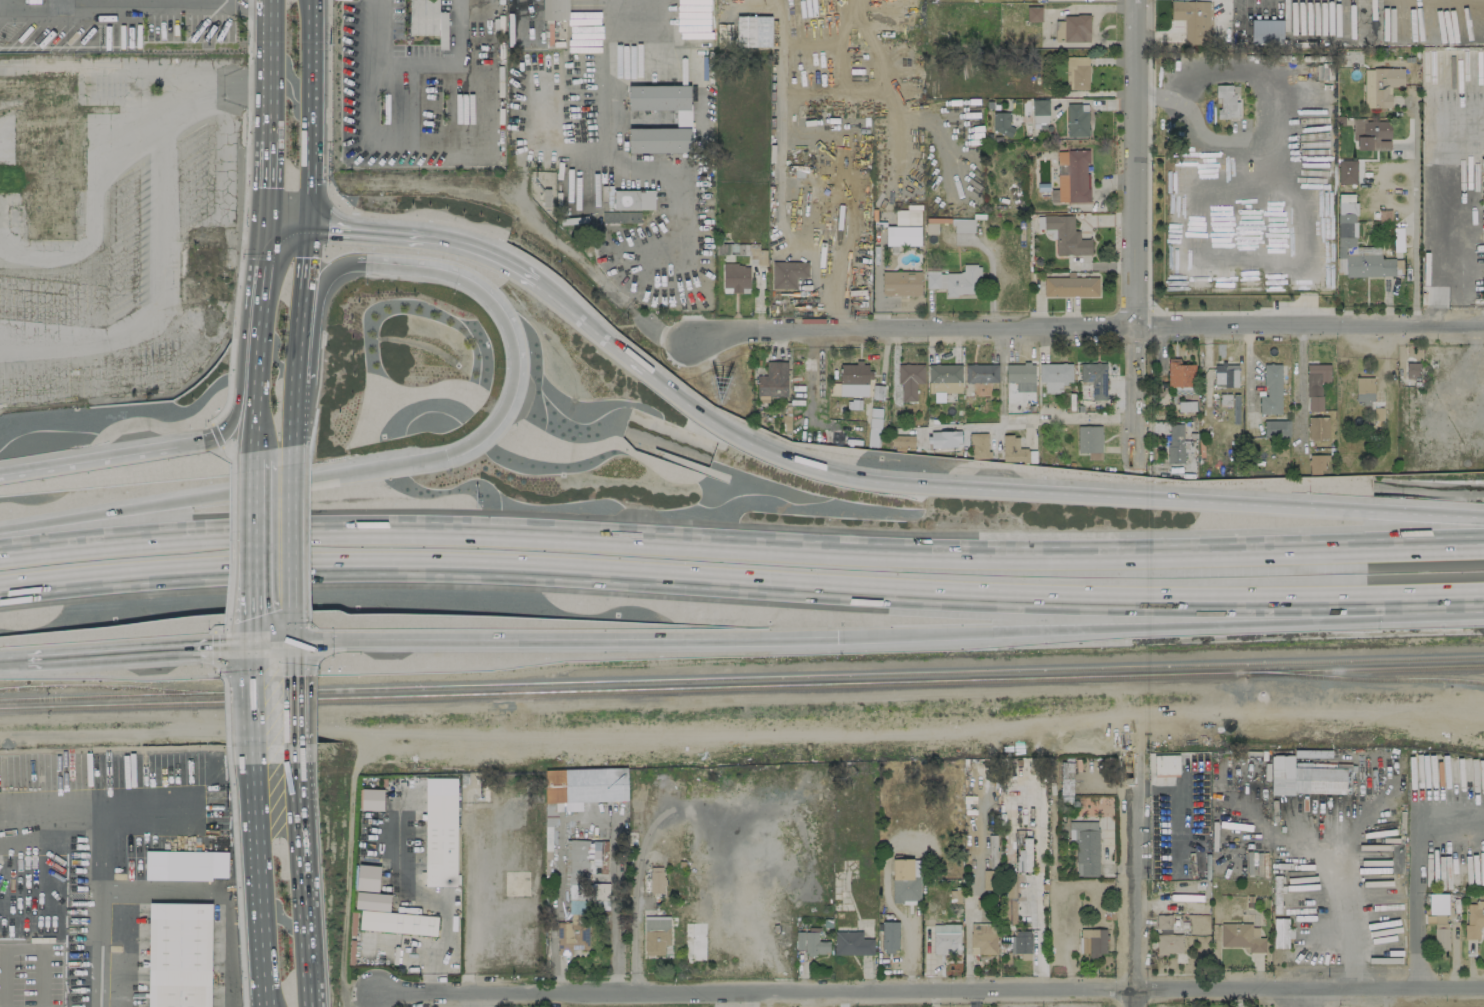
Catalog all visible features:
road: (115, 0)
road: (231, 0)
road: (305, 0)
road: (236, 1)
building: (1368, 1)
road: (254, 3)
building: (555, 9)
building: (1034, 14)
building: (428, 20)
building: (1193, 20)
building: (1073, 28)
building: (745, 31)
road: (420, 63)
road: (268, 69)
building: (1077, 73)
building: (1380, 85)
building: (662, 100)
building: (1227, 101)
road: (309, 111)
building: (1039, 111)
building: (1077, 120)
building: (1001, 123)
road: (1268, 130)
road: (621, 134)
building: (1371, 134)
building: (658, 140)
building: (1347, 171)
building: (1072, 177)
road: (265, 178)
road: (1412, 183)
building: (633, 199)
road: (244, 215)
building: (906, 216)
traffic signals: (264, 218)
road: (285, 220)
building: (1346, 220)
traffic signals: (307, 223)
building: (963, 225)
road: (1134, 231)
building: (1065, 234)
building: (902, 235)
road: (303, 268)
building: (787, 273)
building: (736, 277)
road: (319, 279)
building: (955, 280)
building: (901, 283)
building: (1071, 286)
road: (876, 289)
road: (1412, 302)
road: (504, 321)
road: (259, 324)
road: (1084, 325)
road: (297, 347)
building: (1412, 370)
building: (1020, 372)
building: (853, 373)
building: (981, 373)
building: (1180, 373)
building: (1225, 374)
building: (1054, 376)
building: (944, 377)
building: (1094, 378)
building: (909, 380)
building: (772, 381)
road: (1300, 384)
building: (1316, 384)
building: (1271, 390)
building: (1363, 390)
road: (291, 404)
building: (1186, 405)
road: (1056, 417)
building: (1318, 427)
building: (1276, 428)
road: (217, 435)
building: (944, 438)
building: (902, 440)
building: (1090, 441)
building: (1175, 443)
road: (254, 444)
building: (979, 445)
building: (1013, 449)
road: (127, 453)
traffic signals: (445, 458)
road: (859, 476)
road: (222, 493)
road: (287, 522)
road: (231, 530)
road: (249, 535)
road: (741, 545)
road: (741, 581)
road: (226, 627)
road: (244, 629)
road: (285, 629)
road: (885, 637)
traffic signals: (286, 642)
traffic signals: (243, 645)
road: (215, 648)
road: (143, 651)
road: (286, 658)
road: (244, 659)
railway: (1371, 659)
railway: (1365, 679)
railway: (629, 681)
railway: (114, 685)
railway: (742, 687)
road: (289, 709)
road: (226, 714)
road: (247, 717)
building: (1166, 765)
building: (1304, 778)
building: (1065, 780)
road: (295, 784)
building: (582, 788)
building: (371, 799)
building: (440, 831)
building: (1085, 846)
building: (188, 865)
road: (1134, 865)
road: (100, 867)
building: (586, 873)
road: (1415, 875)
building: (989, 879)
building: (656, 880)
road: (256, 884)
road: (237, 885)
road: (1338, 893)
building: (1010, 901)
building: (1437, 903)
building: (384, 907)
road: (892, 908)
road: (303, 916)
building: (1474, 917)
building: (1164, 920)
building: (1281, 932)
building: (1440, 932)
building: (656, 934)
building: (571, 935)
building: (889, 936)
building: (1242, 936)
building: (694, 938)
building: (946, 938)
building: (983, 938)
building: (1021, 941)
building: (1093, 941)
building: (811, 943)
building: (852, 943)
building: (1169, 943)
building: (179, 955)
road: (931, 987)
road: (373, 1000)

